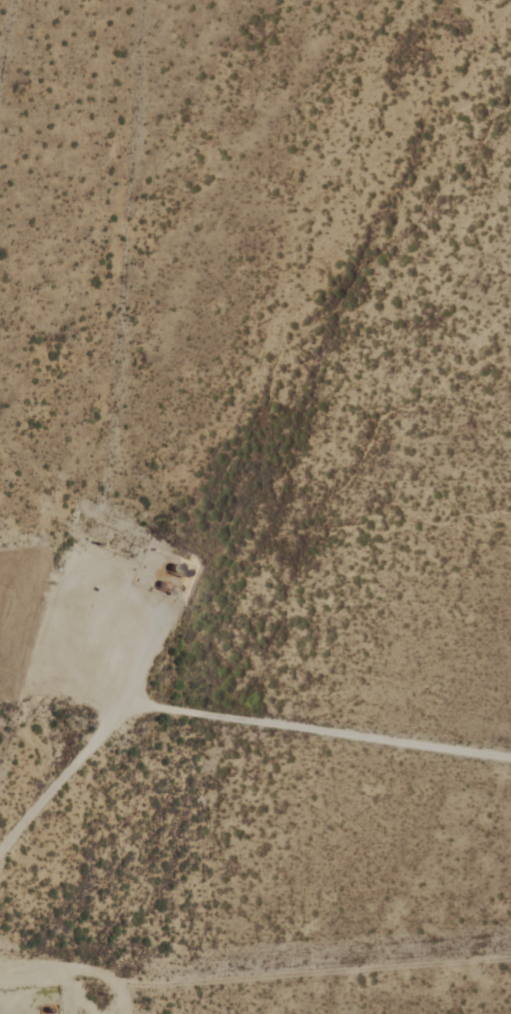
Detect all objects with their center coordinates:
road: (223, 717)
road: (28, 976)

